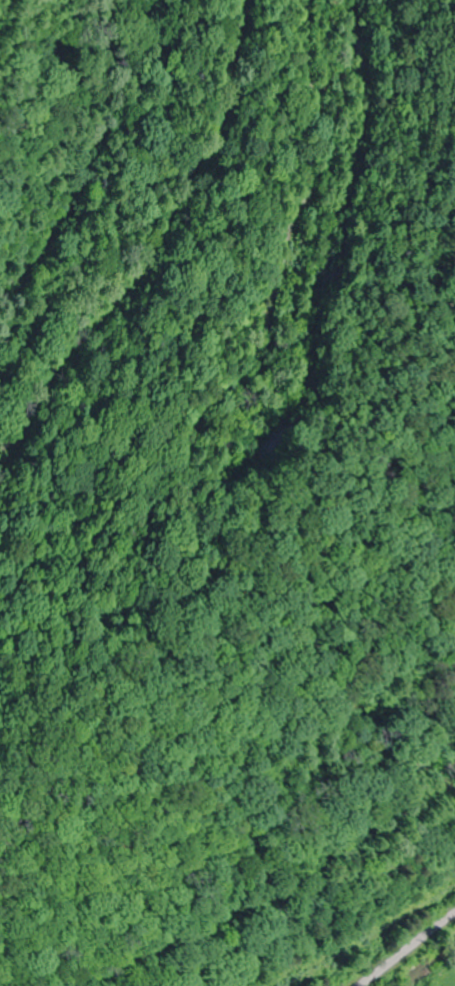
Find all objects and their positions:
road: (408, 950)

